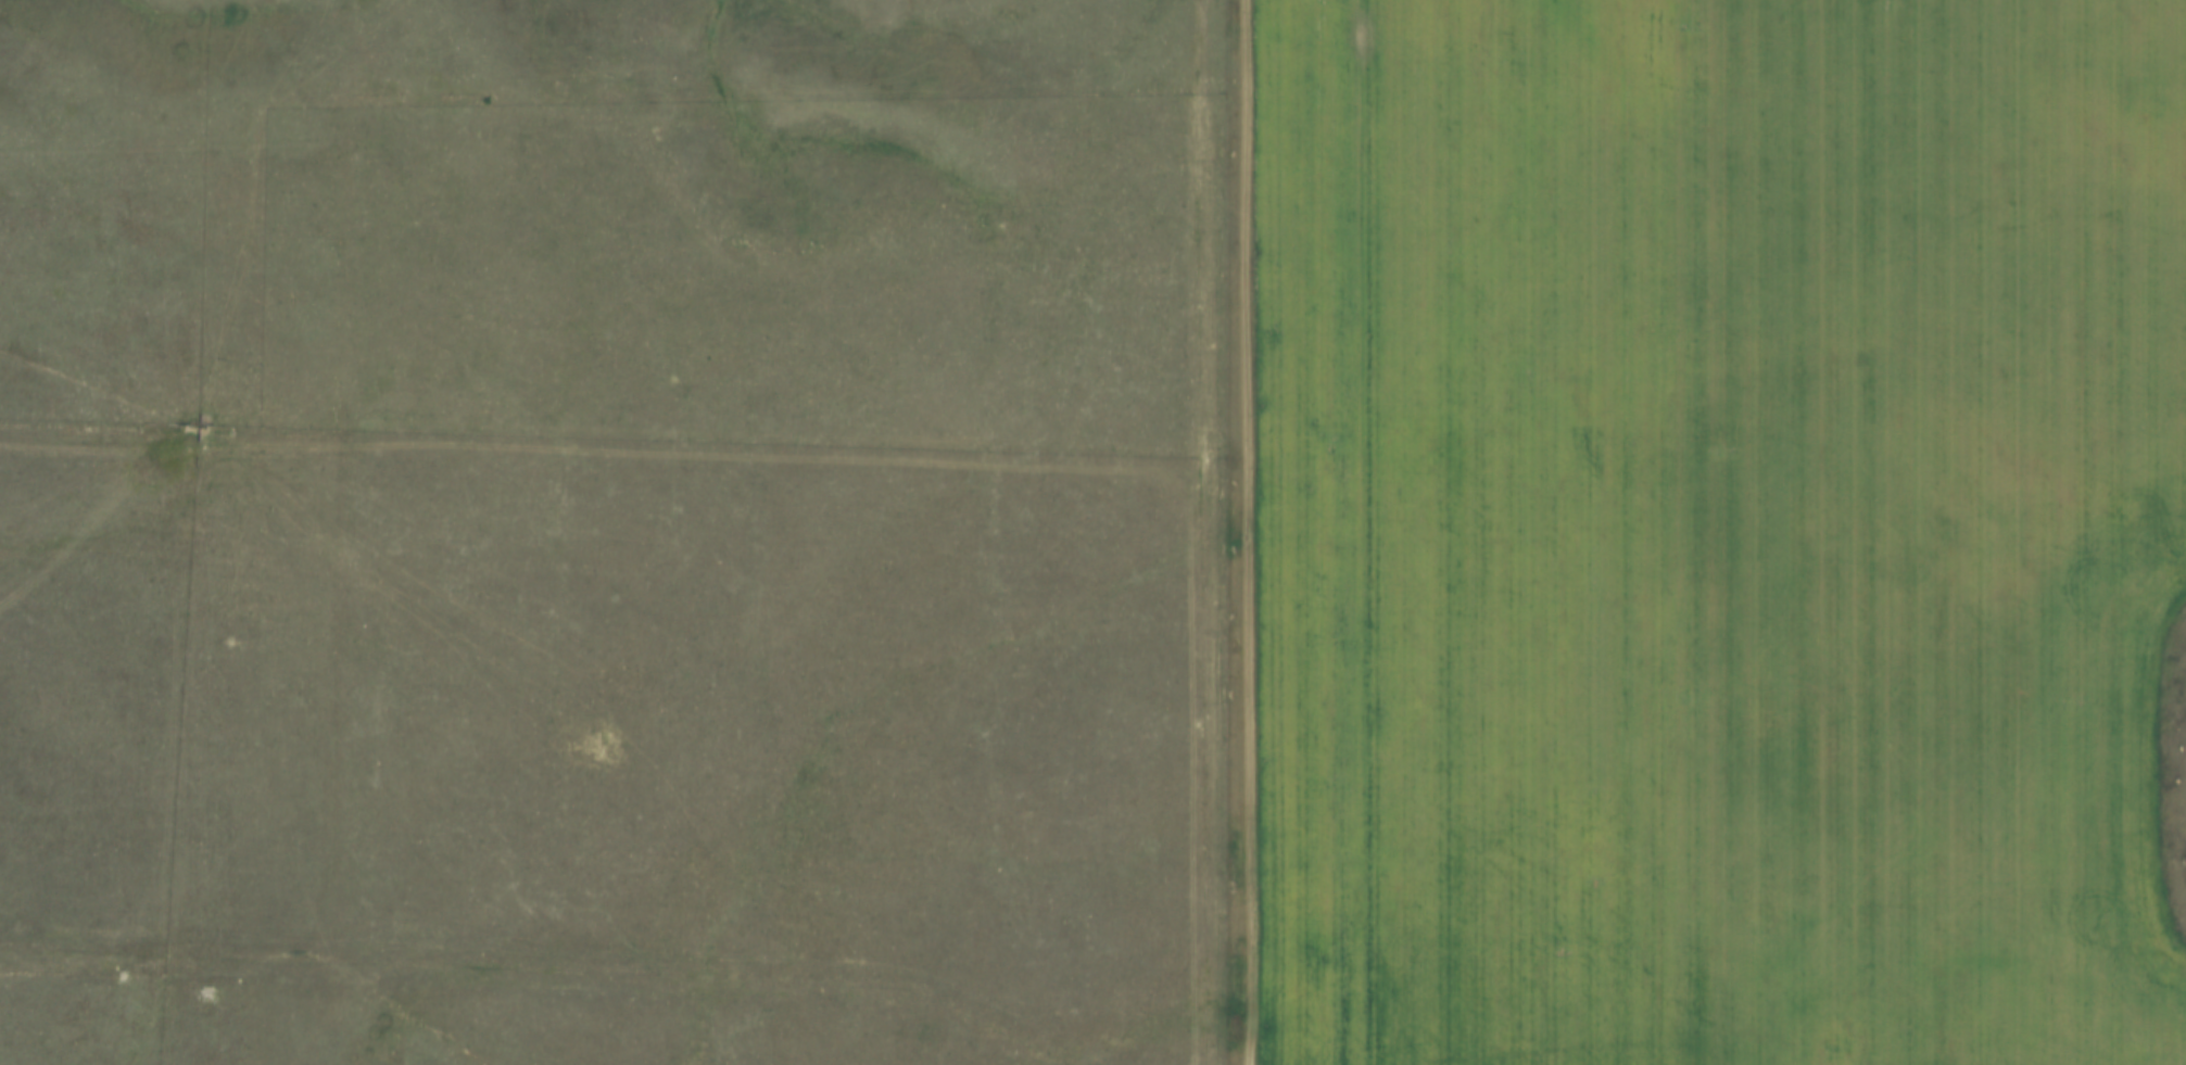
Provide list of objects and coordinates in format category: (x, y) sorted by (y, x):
road: (1244, 532)

